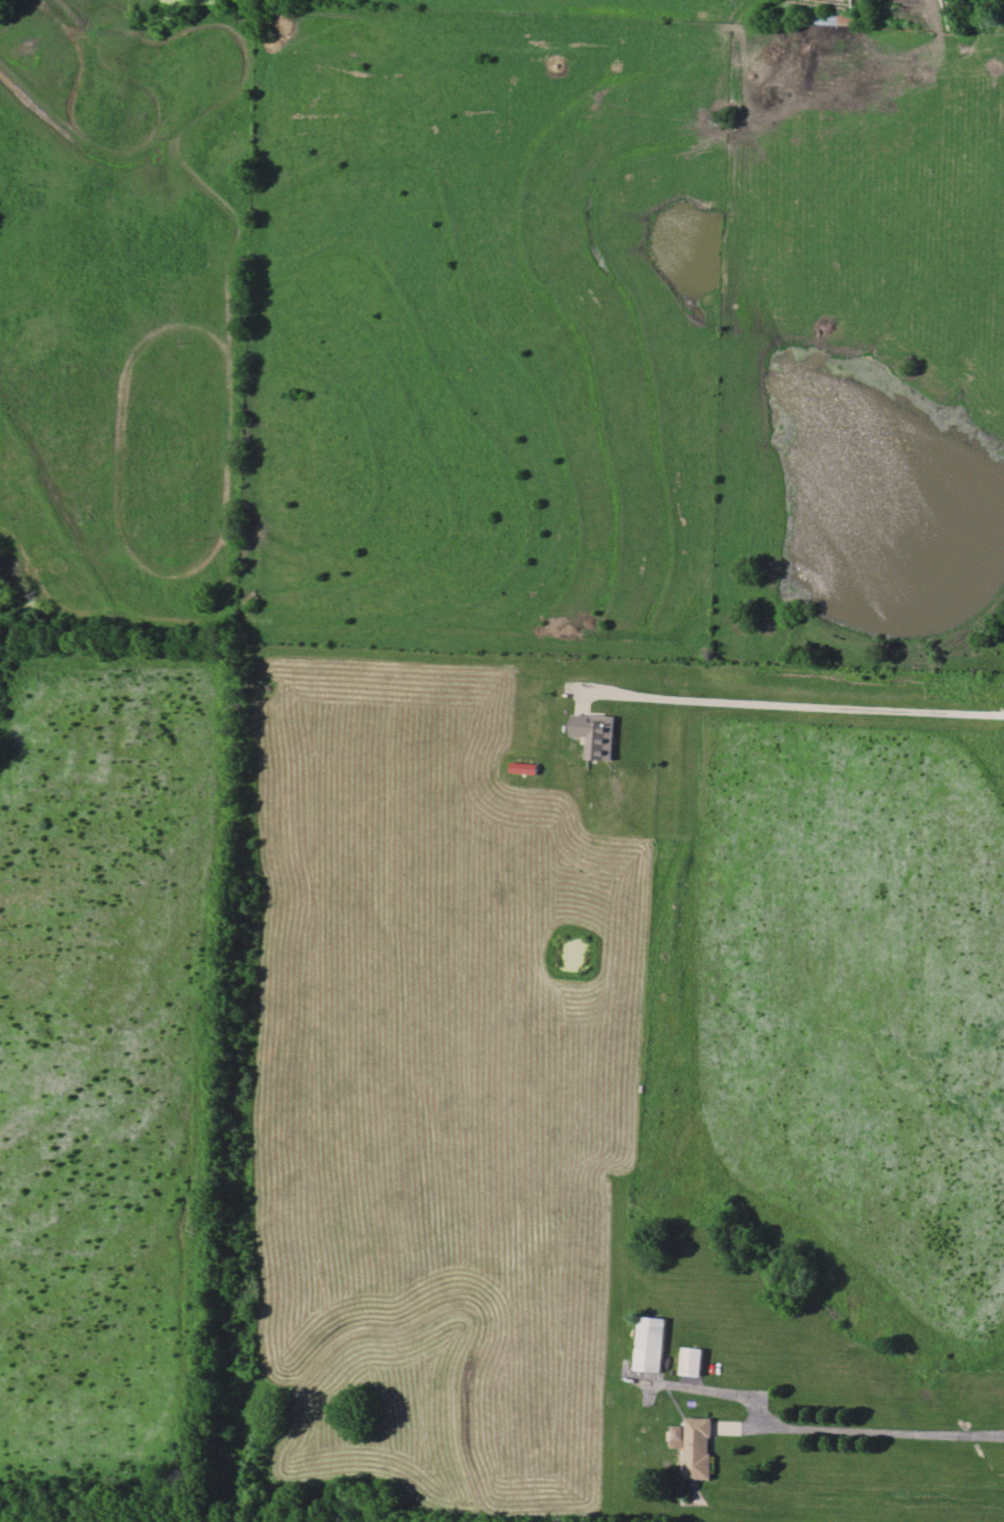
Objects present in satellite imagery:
building: (834, 20)
road: (795, 699)
building: (653, 1345)
road: (821, 1430)
building: (698, 1447)

